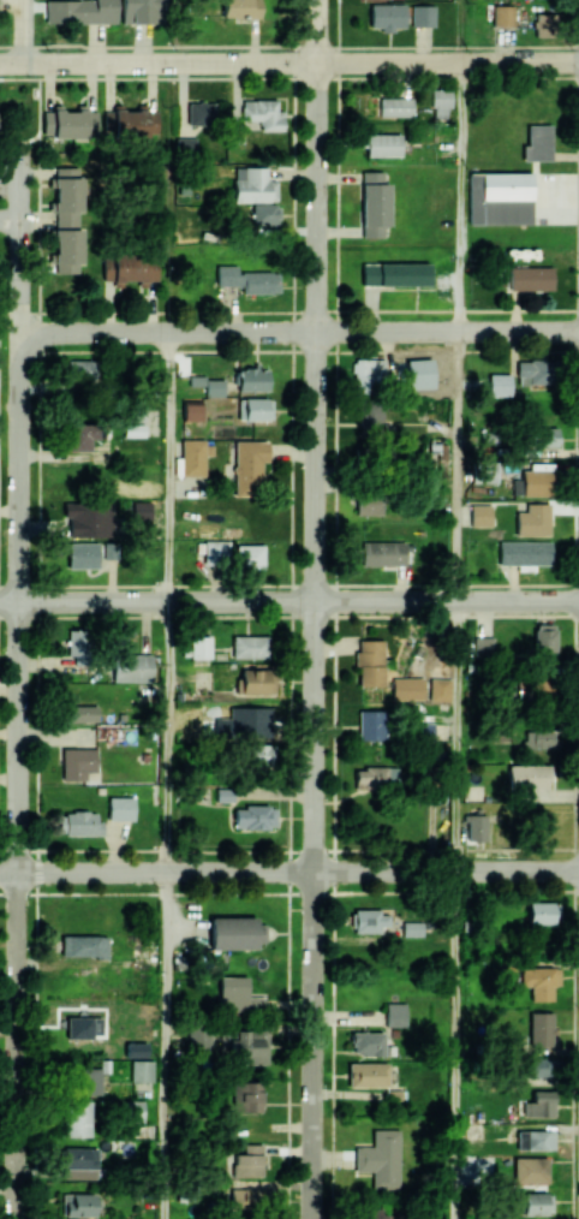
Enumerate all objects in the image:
building: (239, 8)
building: (80, 11)
building: (141, 11)
building: (502, 14)
building: (387, 16)
building: (422, 16)
building: (543, 24)
road: (459, 30)
road: (24, 31)
road: (288, 61)
building: (441, 102)
building: (395, 106)
building: (201, 113)
building: (263, 113)
building: (74, 123)
building: (135, 123)
building: (537, 142)
building: (381, 144)
building: (185, 147)
building: (253, 185)
road: (458, 196)
building: (499, 197)
building: (374, 203)
building: (264, 213)
road: (11, 219)
building: (67, 219)
building: (133, 267)
building: (394, 274)
building: (530, 278)
building: (247, 279)
road: (300, 331)
building: (78, 369)
building: (532, 371)
building: (412, 373)
building: (368, 375)
building: (252, 379)
building: (214, 387)
building: (512, 387)
building: (257, 409)
building: (191, 410)
building: (371, 417)
building: (133, 422)
building: (79, 435)
road: (318, 435)
building: (547, 436)
building: (195, 456)
road: (166, 465)
road: (456, 465)
building: (249, 466)
building: (484, 471)
building: (536, 482)
building: (369, 505)
building: (141, 510)
building: (479, 515)
road: (20, 516)
building: (89, 518)
building: (533, 519)
building: (215, 552)
building: (524, 552)
building: (90, 553)
building: (383, 553)
building: (249, 555)
road: (288, 600)
building: (544, 641)
building: (78, 644)
building: (249, 646)
building: (199, 647)
building: (483, 647)
building: (369, 662)
building: (131, 667)
building: (257, 682)
building: (407, 688)
building: (438, 689)
building: (80, 713)
building: (371, 725)
building: (424, 730)
road: (165, 736)
road: (456, 736)
building: (538, 737)
building: (259, 754)
building: (77, 762)
building: (376, 777)
building: (527, 777)
building: (120, 808)
building: (253, 816)
building: (82, 823)
building: (476, 828)
road: (163, 848)
road: (288, 872)
road: (162, 892)
building: (543, 912)
building: (370, 920)
building: (411, 928)
building: (235, 933)
building: (539, 981)
building: (237, 995)
building: (394, 1013)
building: (84, 1027)
building: (541, 1028)
building: (198, 1037)
building: (366, 1042)
road: (315, 1045)
road: (455, 1045)
road: (17, 1046)
road: (162, 1046)
building: (247, 1047)
building: (137, 1049)
building: (542, 1068)
building: (368, 1074)
building: (143, 1076)
building: (88, 1081)
building: (246, 1095)
building: (538, 1104)
building: (130, 1110)
building: (77, 1118)
building: (473, 1131)
building: (530, 1138)
building: (381, 1158)
building: (247, 1160)
building: (78, 1164)
building: (530, 1170)
building: (250, 1197)
building: (537, 1202)
building: (78, 1205)
building: (374, 1214)

